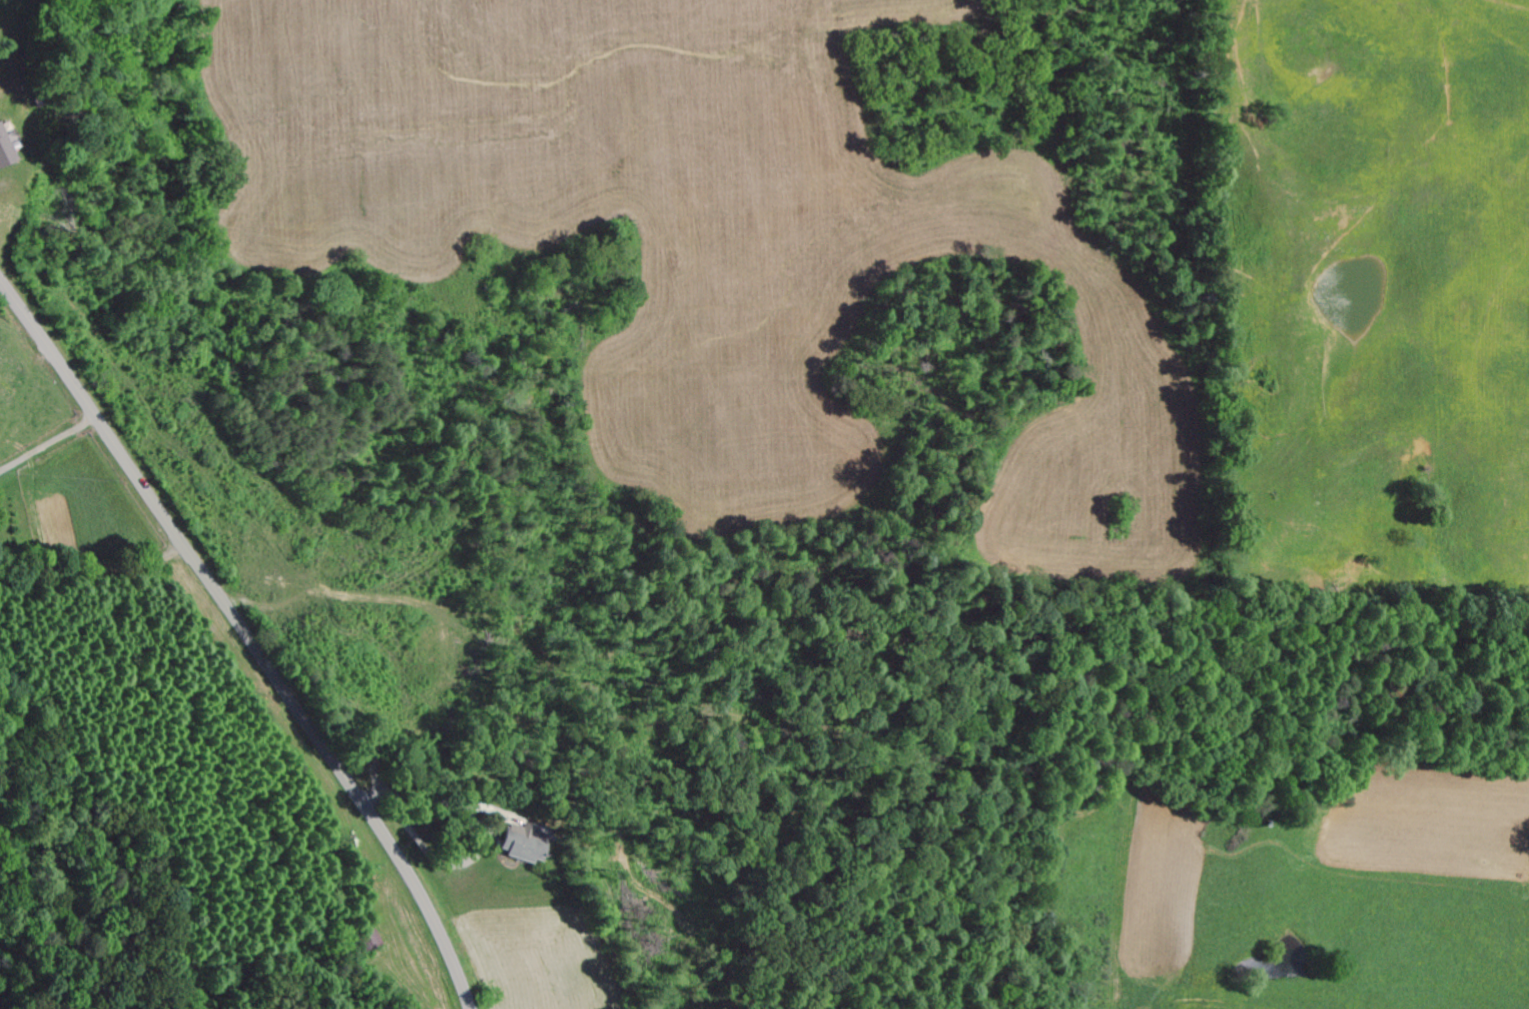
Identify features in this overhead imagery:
building: (3, 156)
road: (247, 637)
building: (519, 845)

